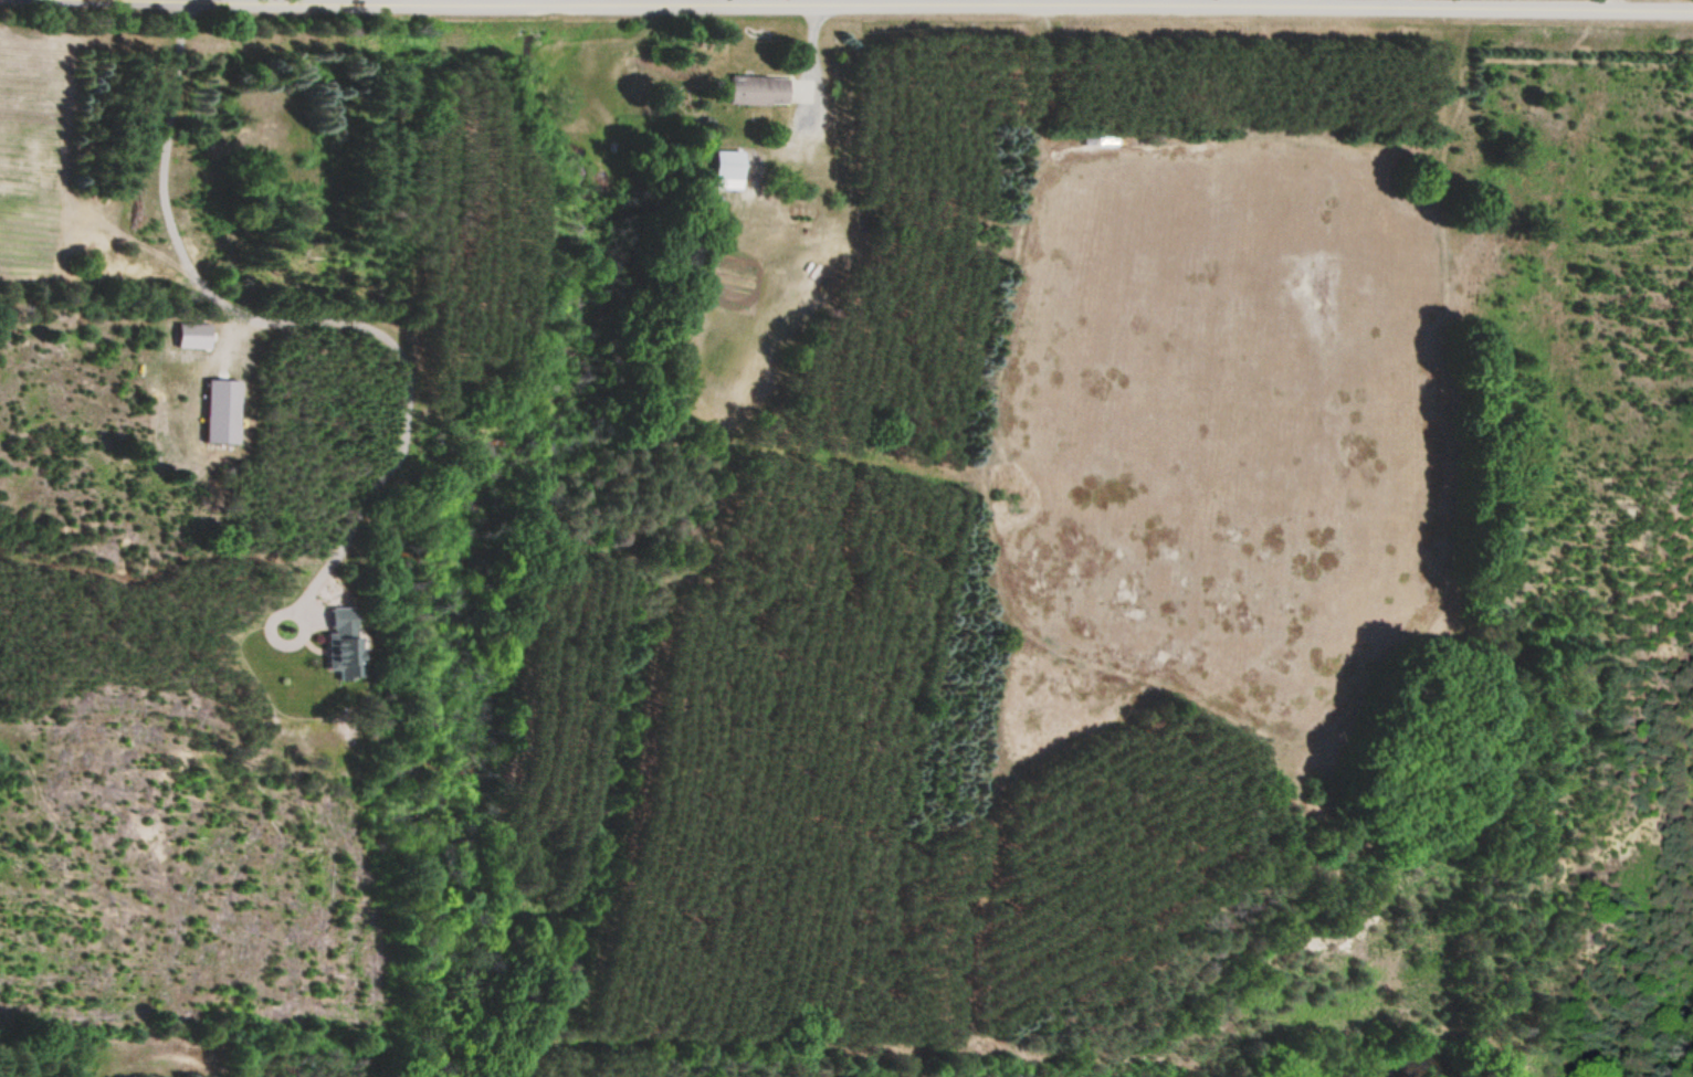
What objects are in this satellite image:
road: (1049, 6)
building: (750, 91)
building: (719, 170)
river: (1389, 1065)

